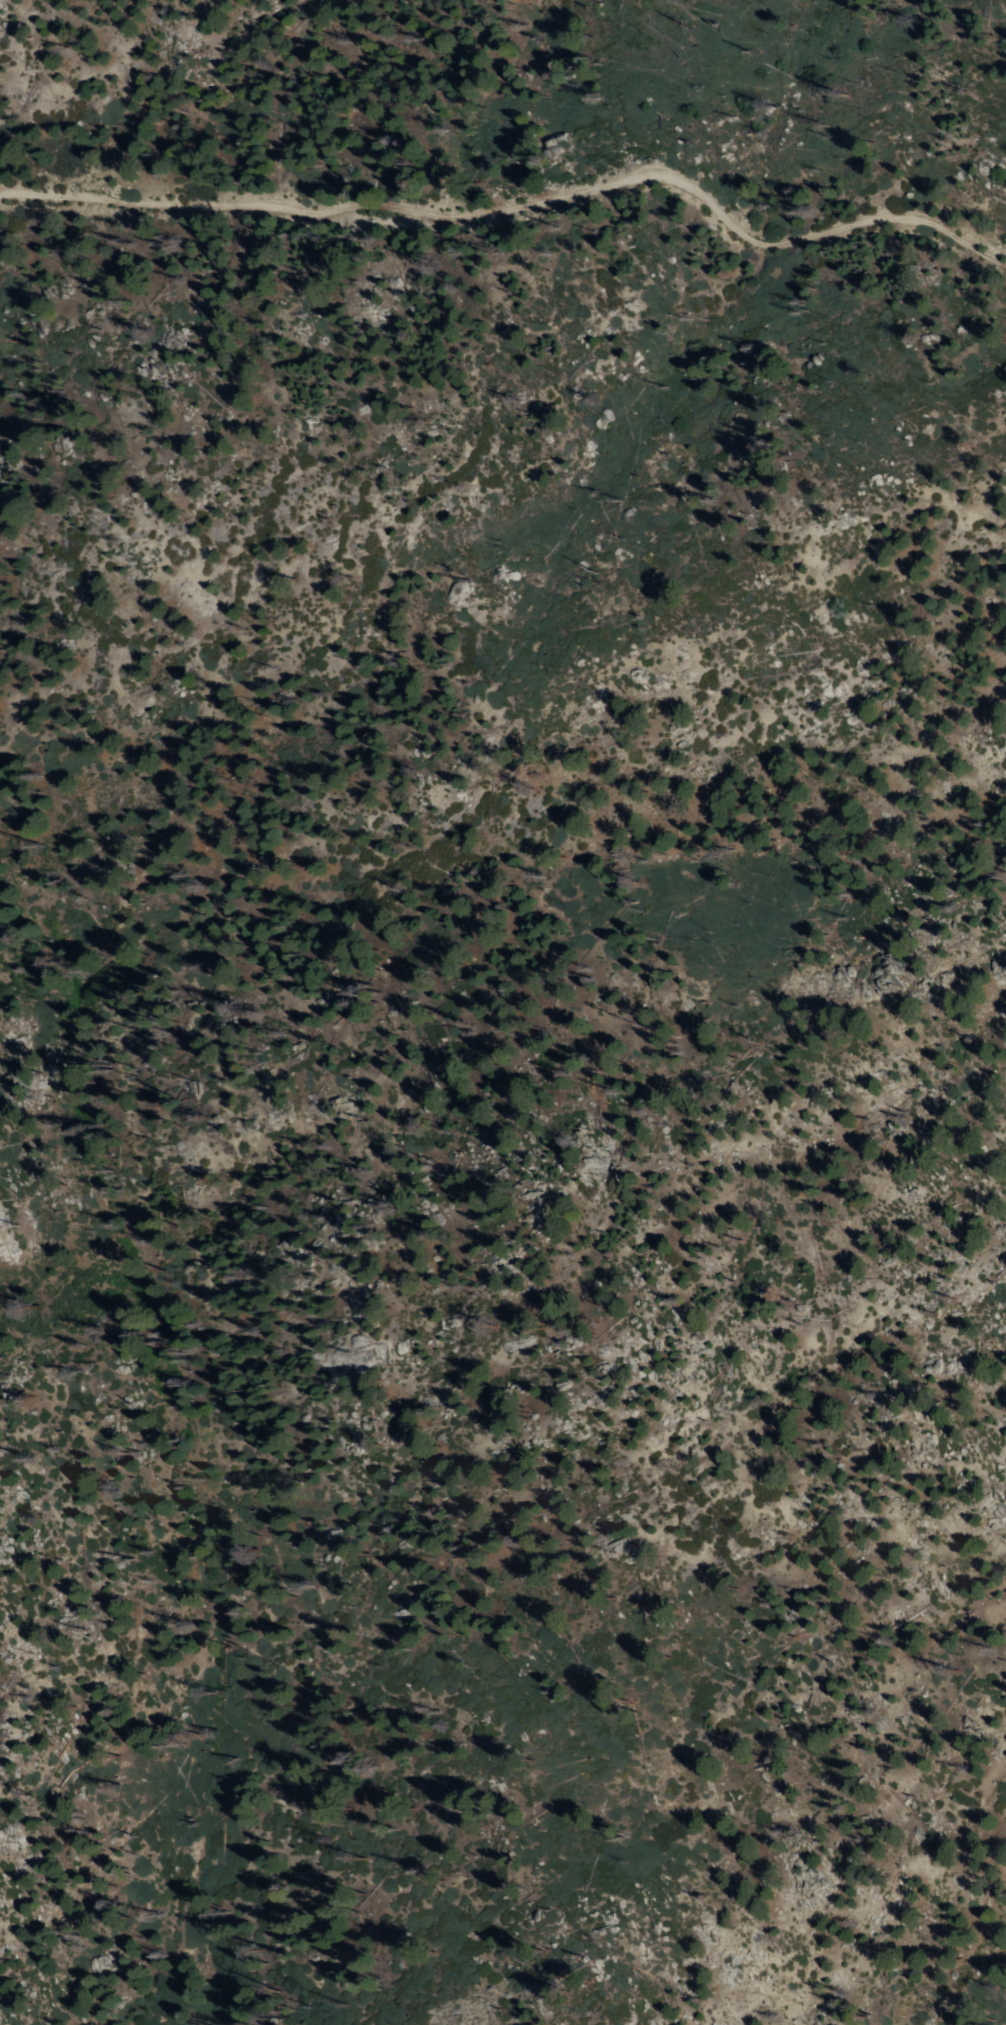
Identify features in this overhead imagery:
road: (518, 192)

